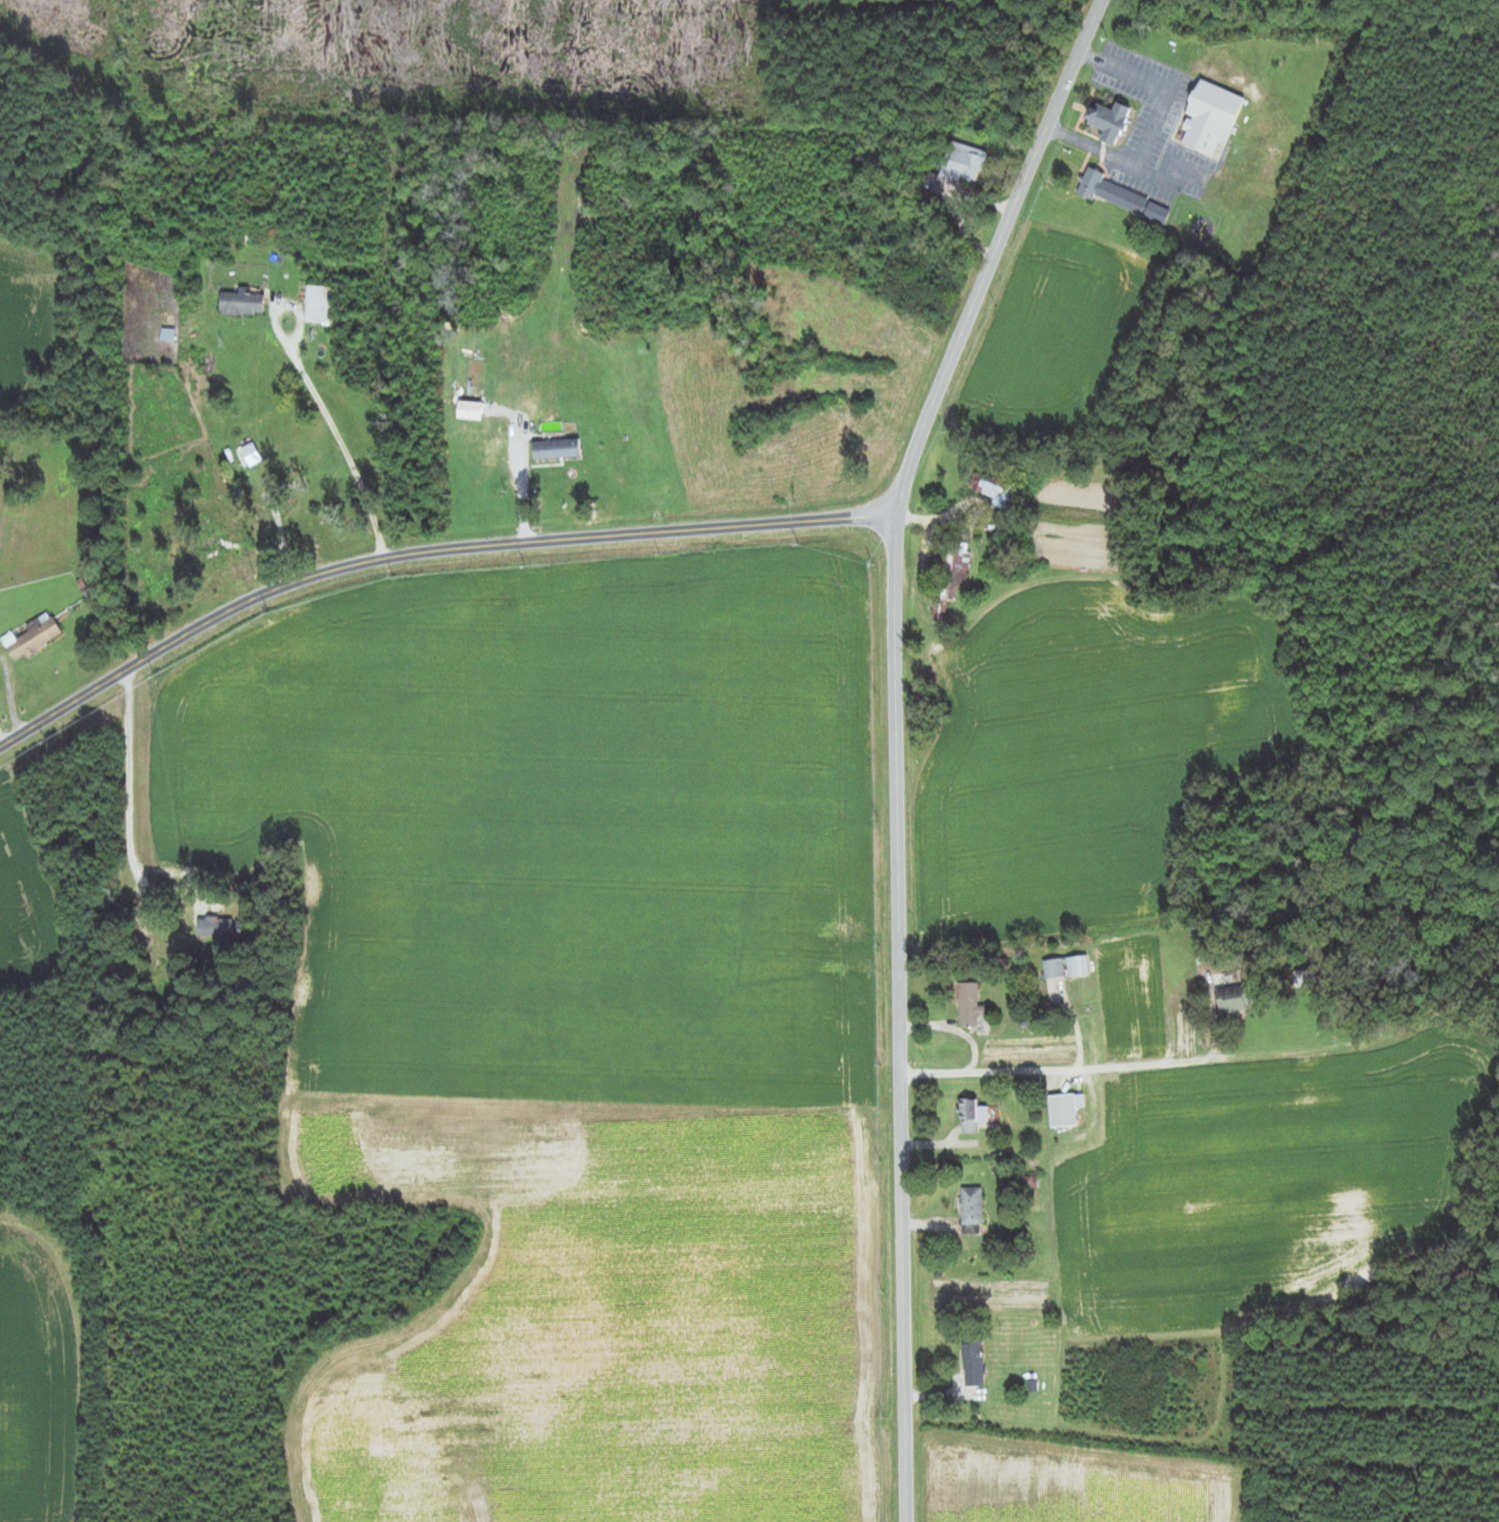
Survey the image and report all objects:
building: (1212, 118)
building: (1111, 123)
building: (1123, 197)
building: (243, 304)
building: (320, 304)
building: (169, 328)
road: (586, 394)
building: (252, 454)
building: (993, 489)
building: (312, 494)
power tower: (801, 542)
road: (424, 552)
power tower: (662, 553)
power tower: (876, 563)
power tower: (527, 566)
power tower: (396, 576)
building: (951, 577)
power tower: (270, 612)
building: (34, 637)
power tower: (157, 677)
power tower: (876, 691)
power tower: (46, 740)
road: (896, 740)
road: (106, 800)
power tower: (878, 817)
building: (216, 927)
power tower: (881, 946)
building: (1065, 967)
building: (1236, 998)
building: (970, 1005)
power tower: (882, 1066)
building: (1063, 1110)
building: (972, 1115)
power tower: (883, 1160)
building: (972, 1207)
building: (1034, 1232)
power tower: (883, 1291)
building: (974, 1360)
power tower: (885, 1418)

